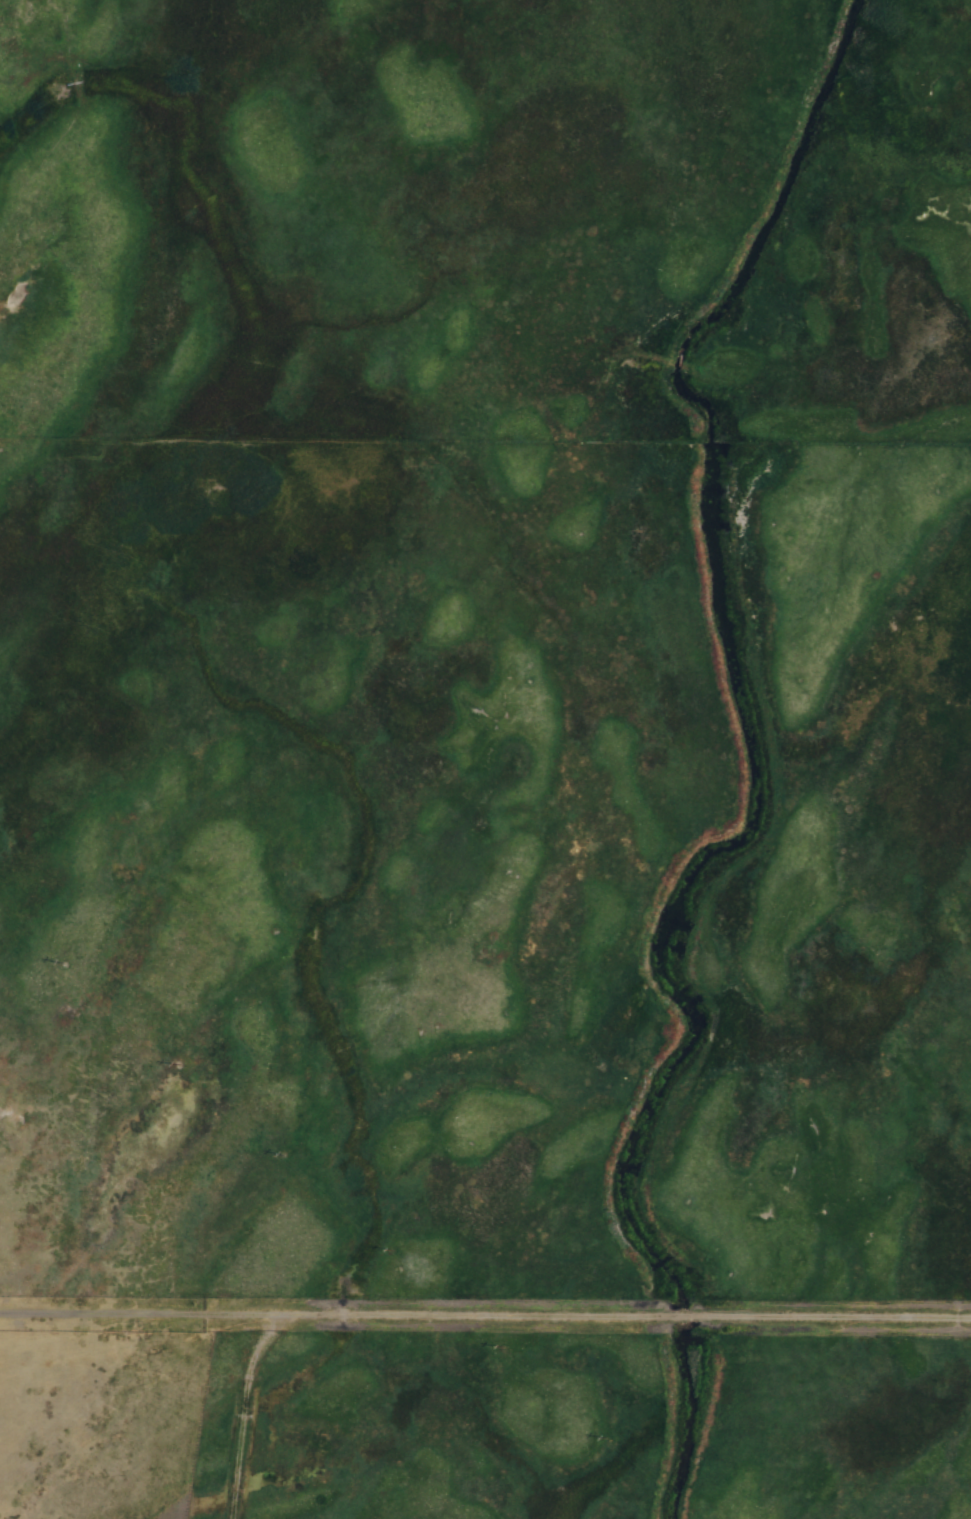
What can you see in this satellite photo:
crop: (524, 745)
road: (485, 1313)
road: (219, 1410)

